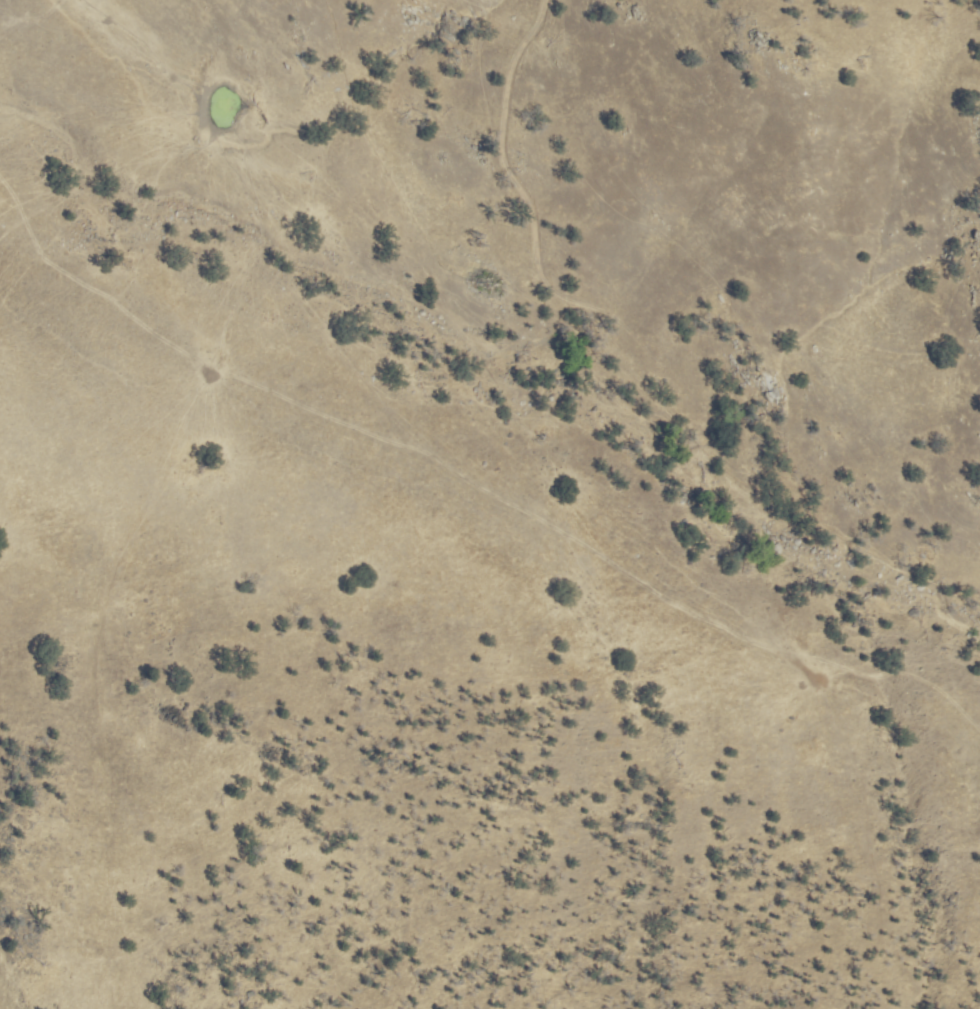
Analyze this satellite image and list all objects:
crop: (7, 45)

